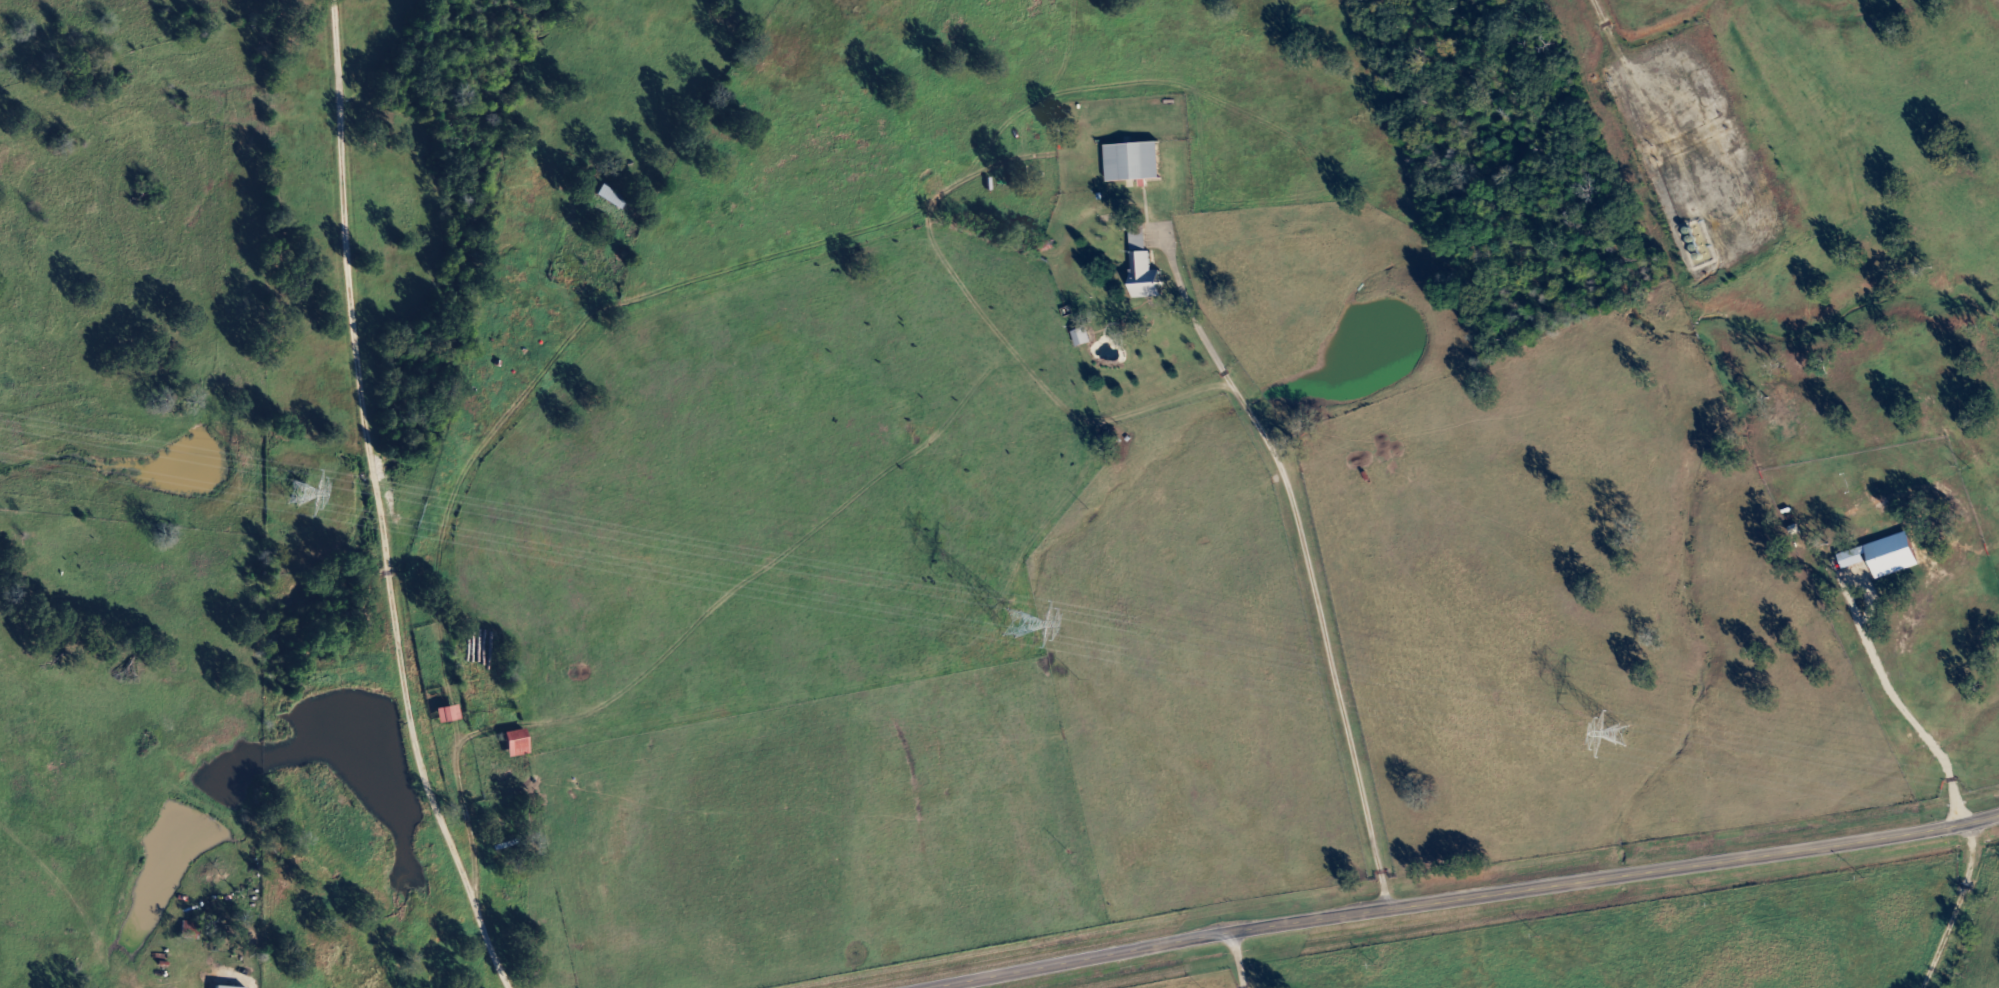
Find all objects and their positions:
building: (1132, 162)
building: (609, 198)
building: (1142, 265)
building: (1082, 338)
power tower: (296, 490)
road: (1305, 554)
power tower: (1033, 625)
building: (445, 715)
power tower: (1624, 735)
building: (514, 744)
road: (1461, 897)
building: (229, 987)

